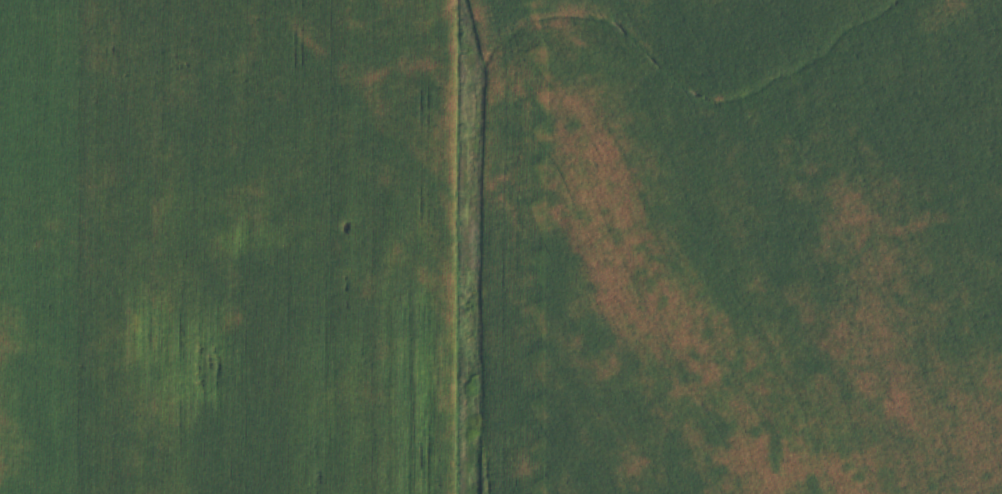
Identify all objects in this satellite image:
crop: (226, 247)

